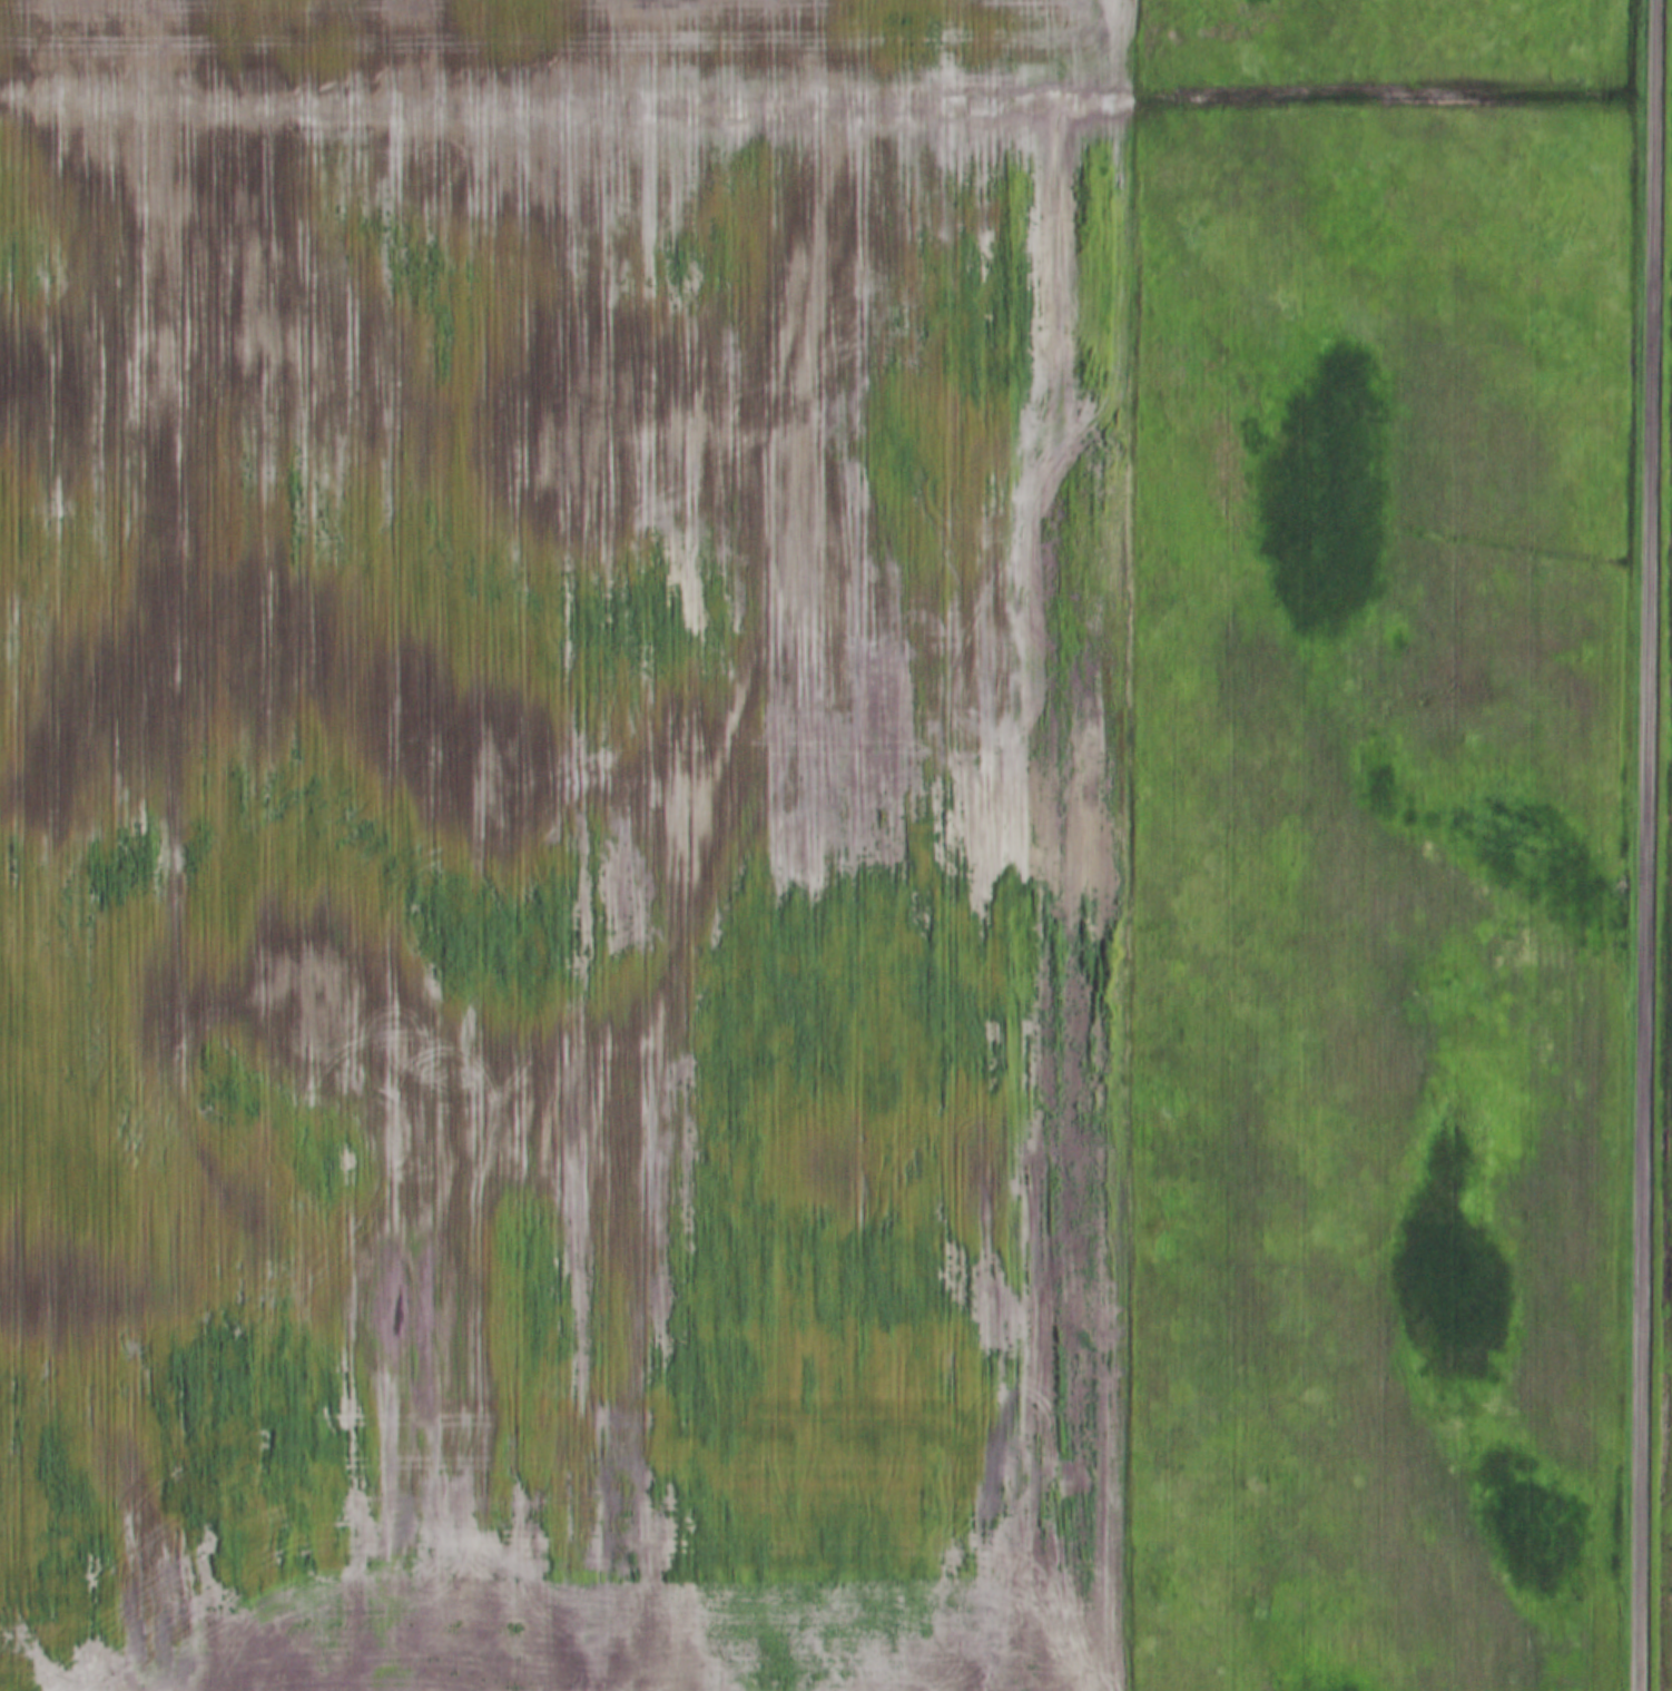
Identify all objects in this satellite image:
road: (1648, 845)

